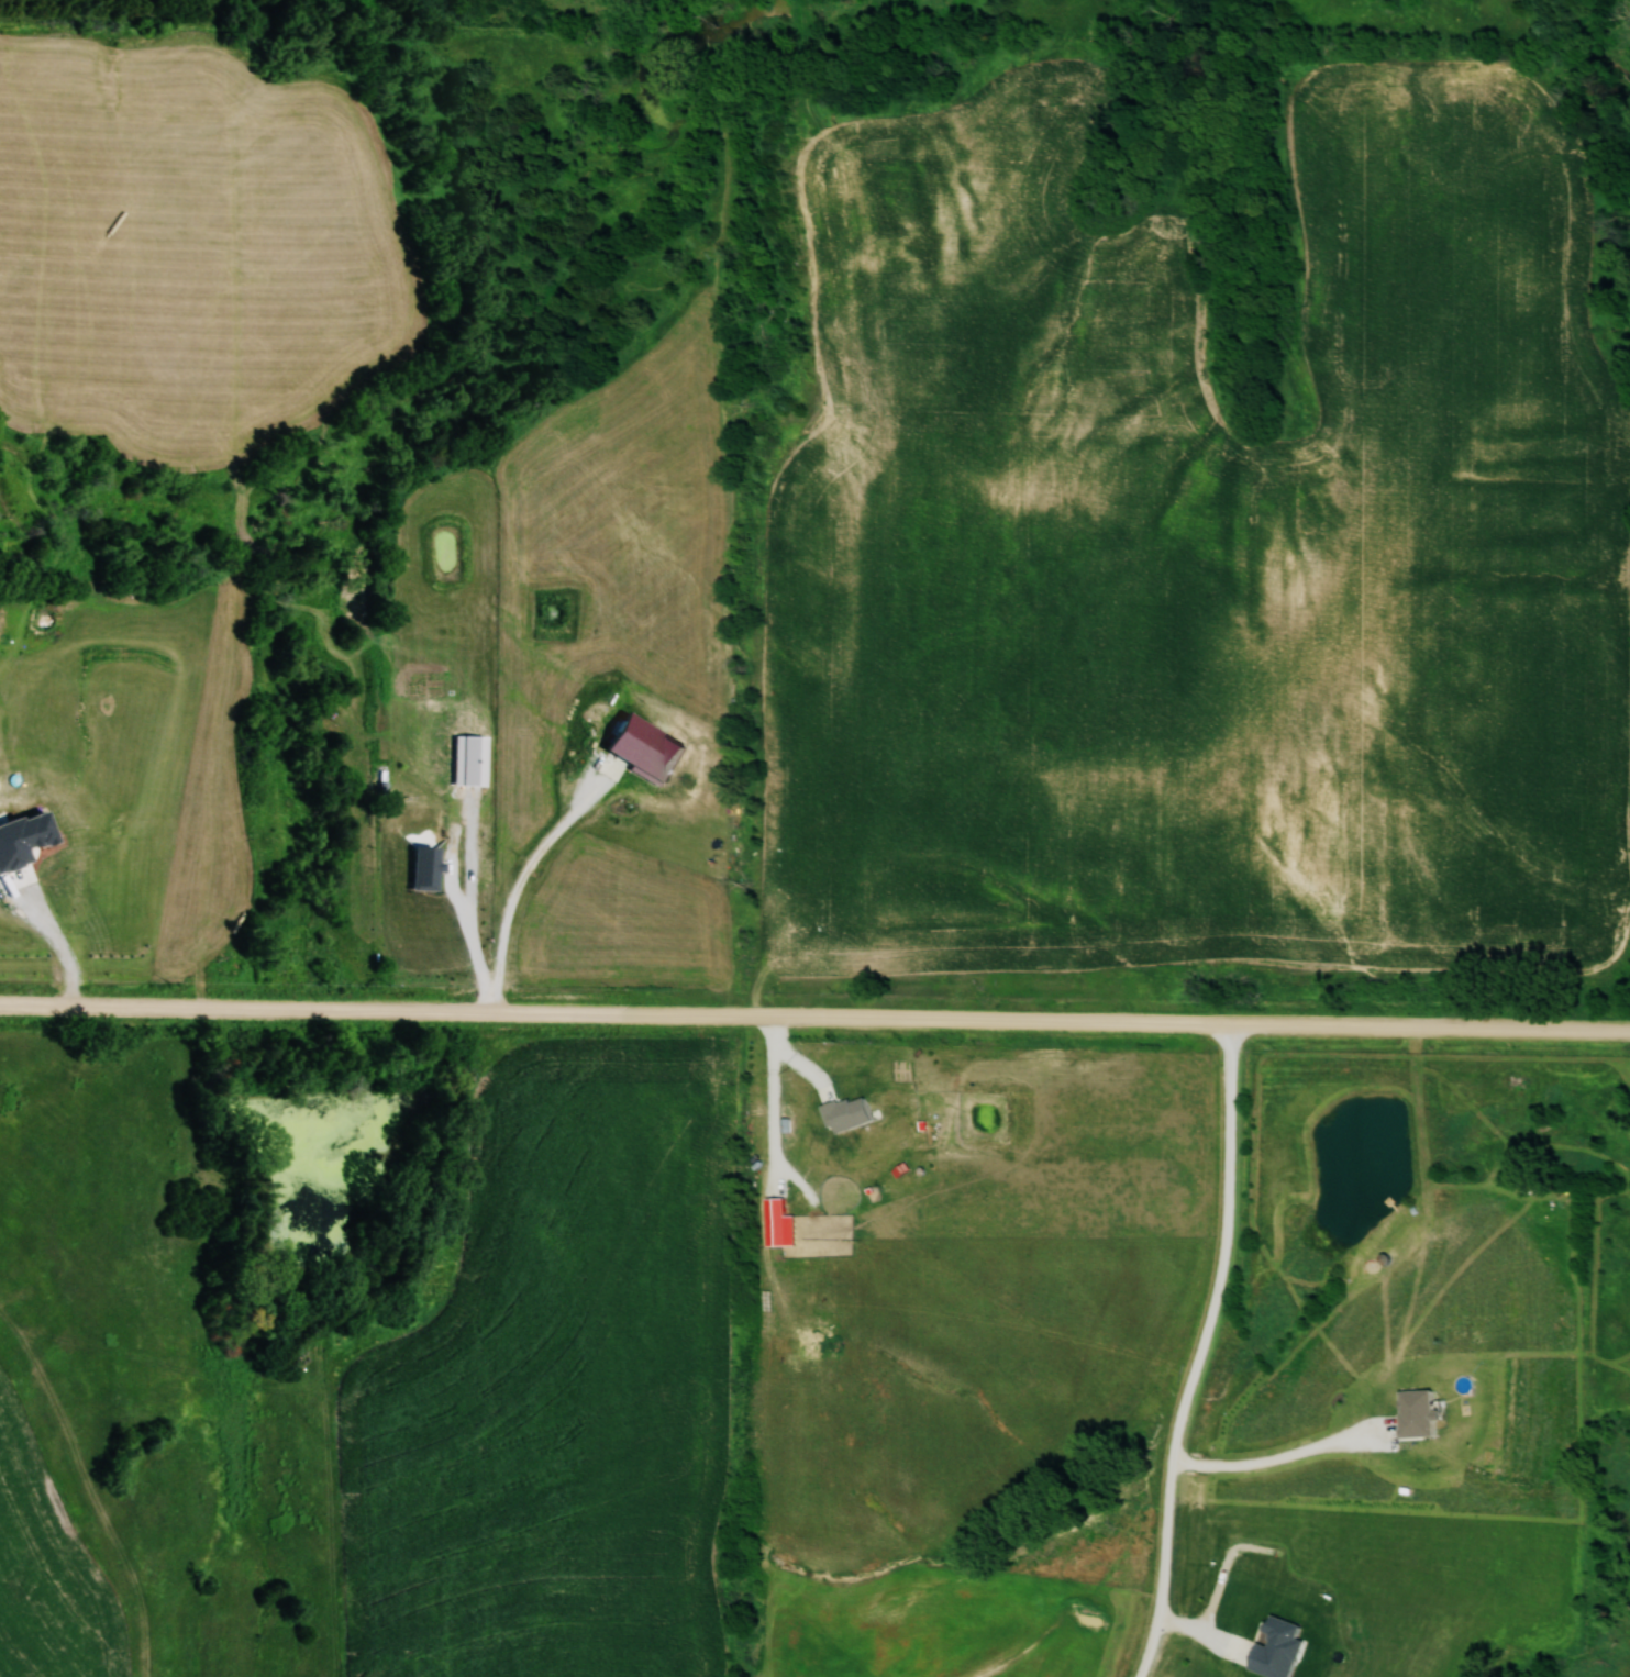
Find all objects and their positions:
road: (814, 1015)

